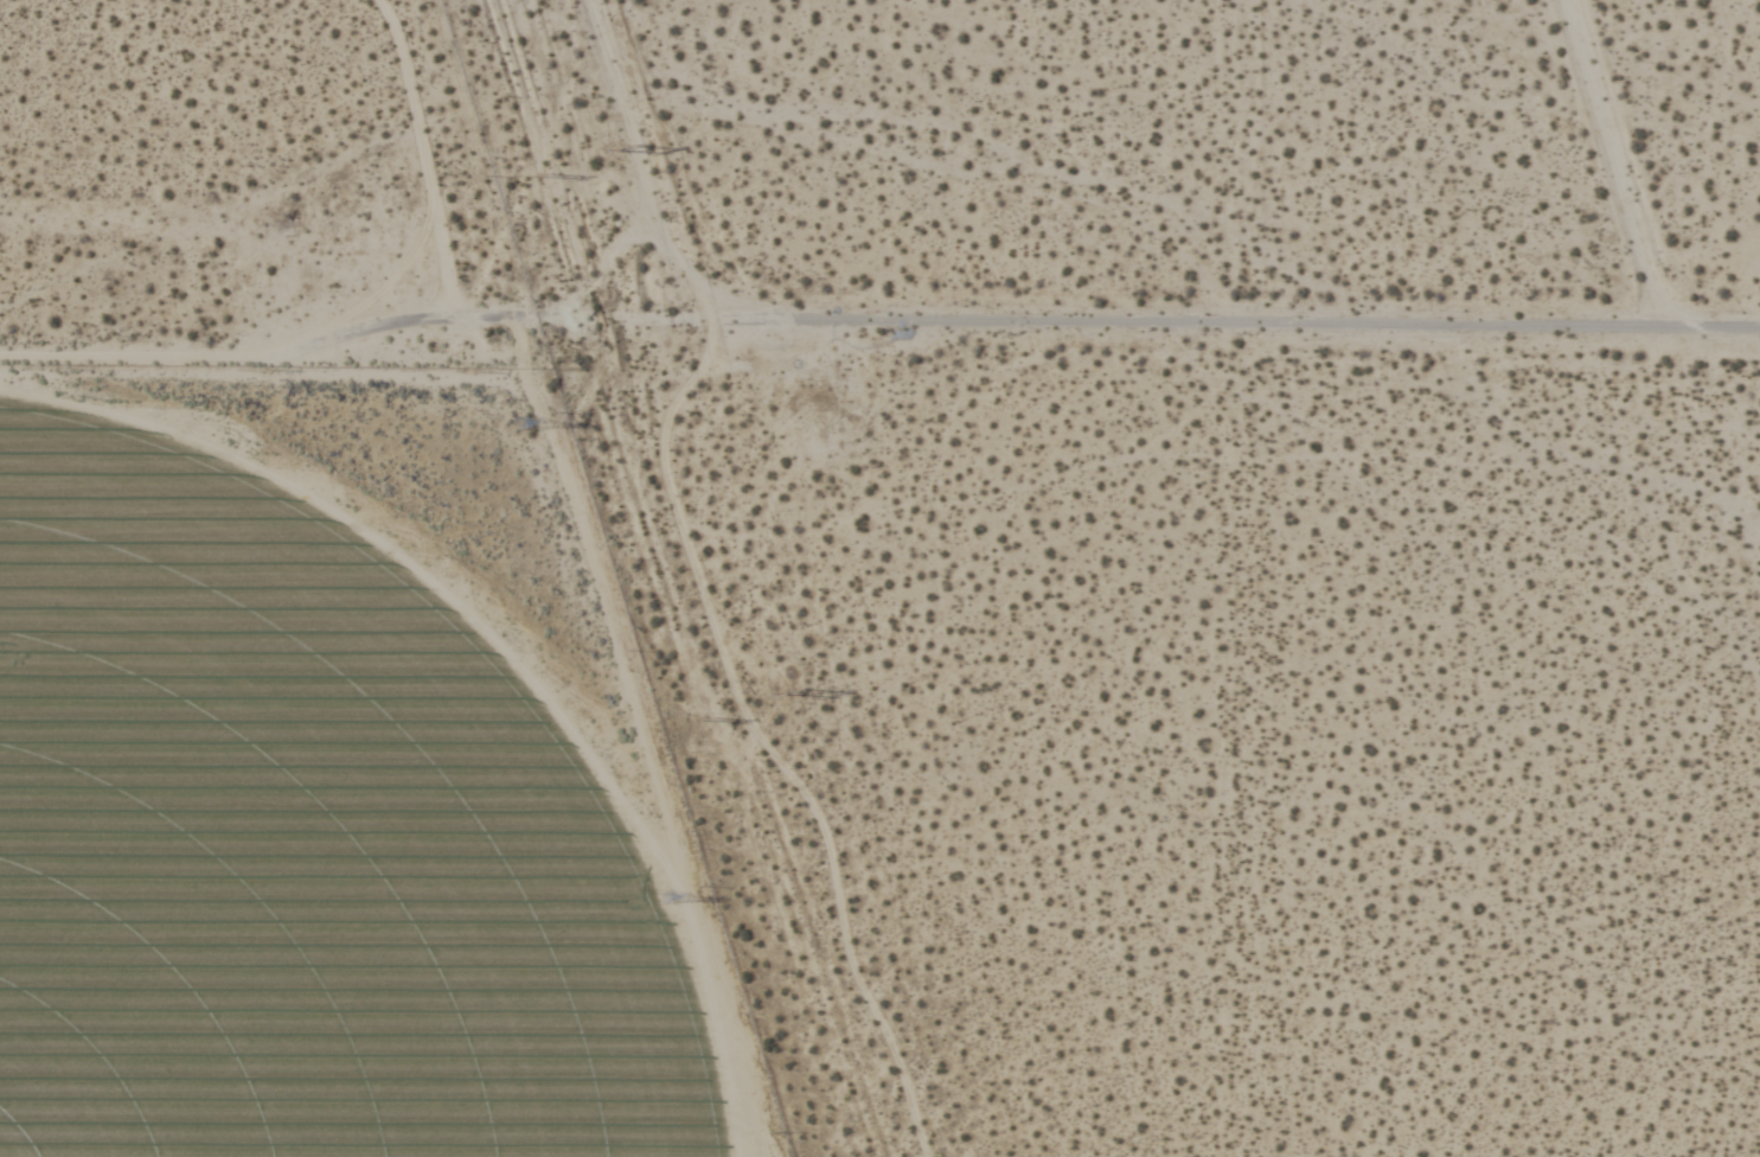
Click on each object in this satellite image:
road: (617, 110)
power tower: (621, 152)
road: (1623, 167)
power tower: (548, 175)
road: (343, 330)
road: (1182, 330)
power tower: (524, 429)
power tower: (780, 689)
power tower: (708, 710)
crop: (294, 845)
power tower: (668, 896)

